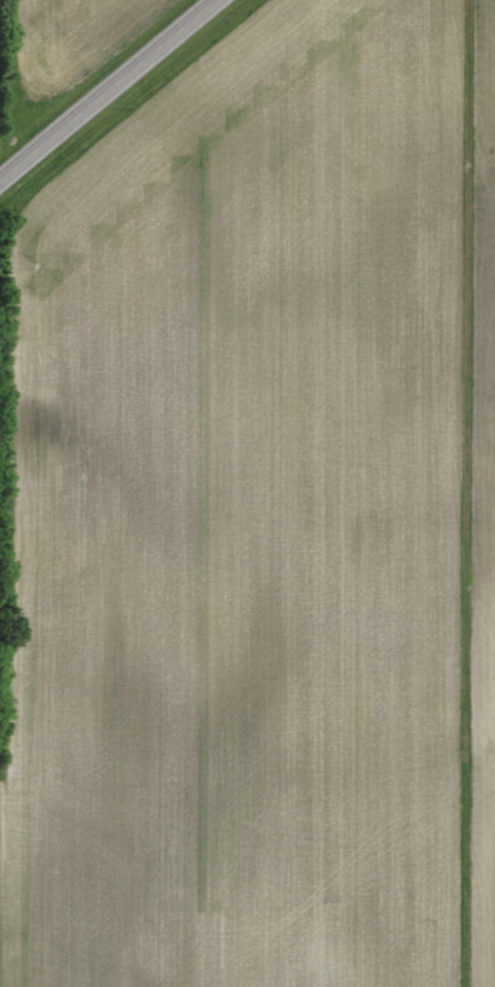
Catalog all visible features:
road: (107, 89)

